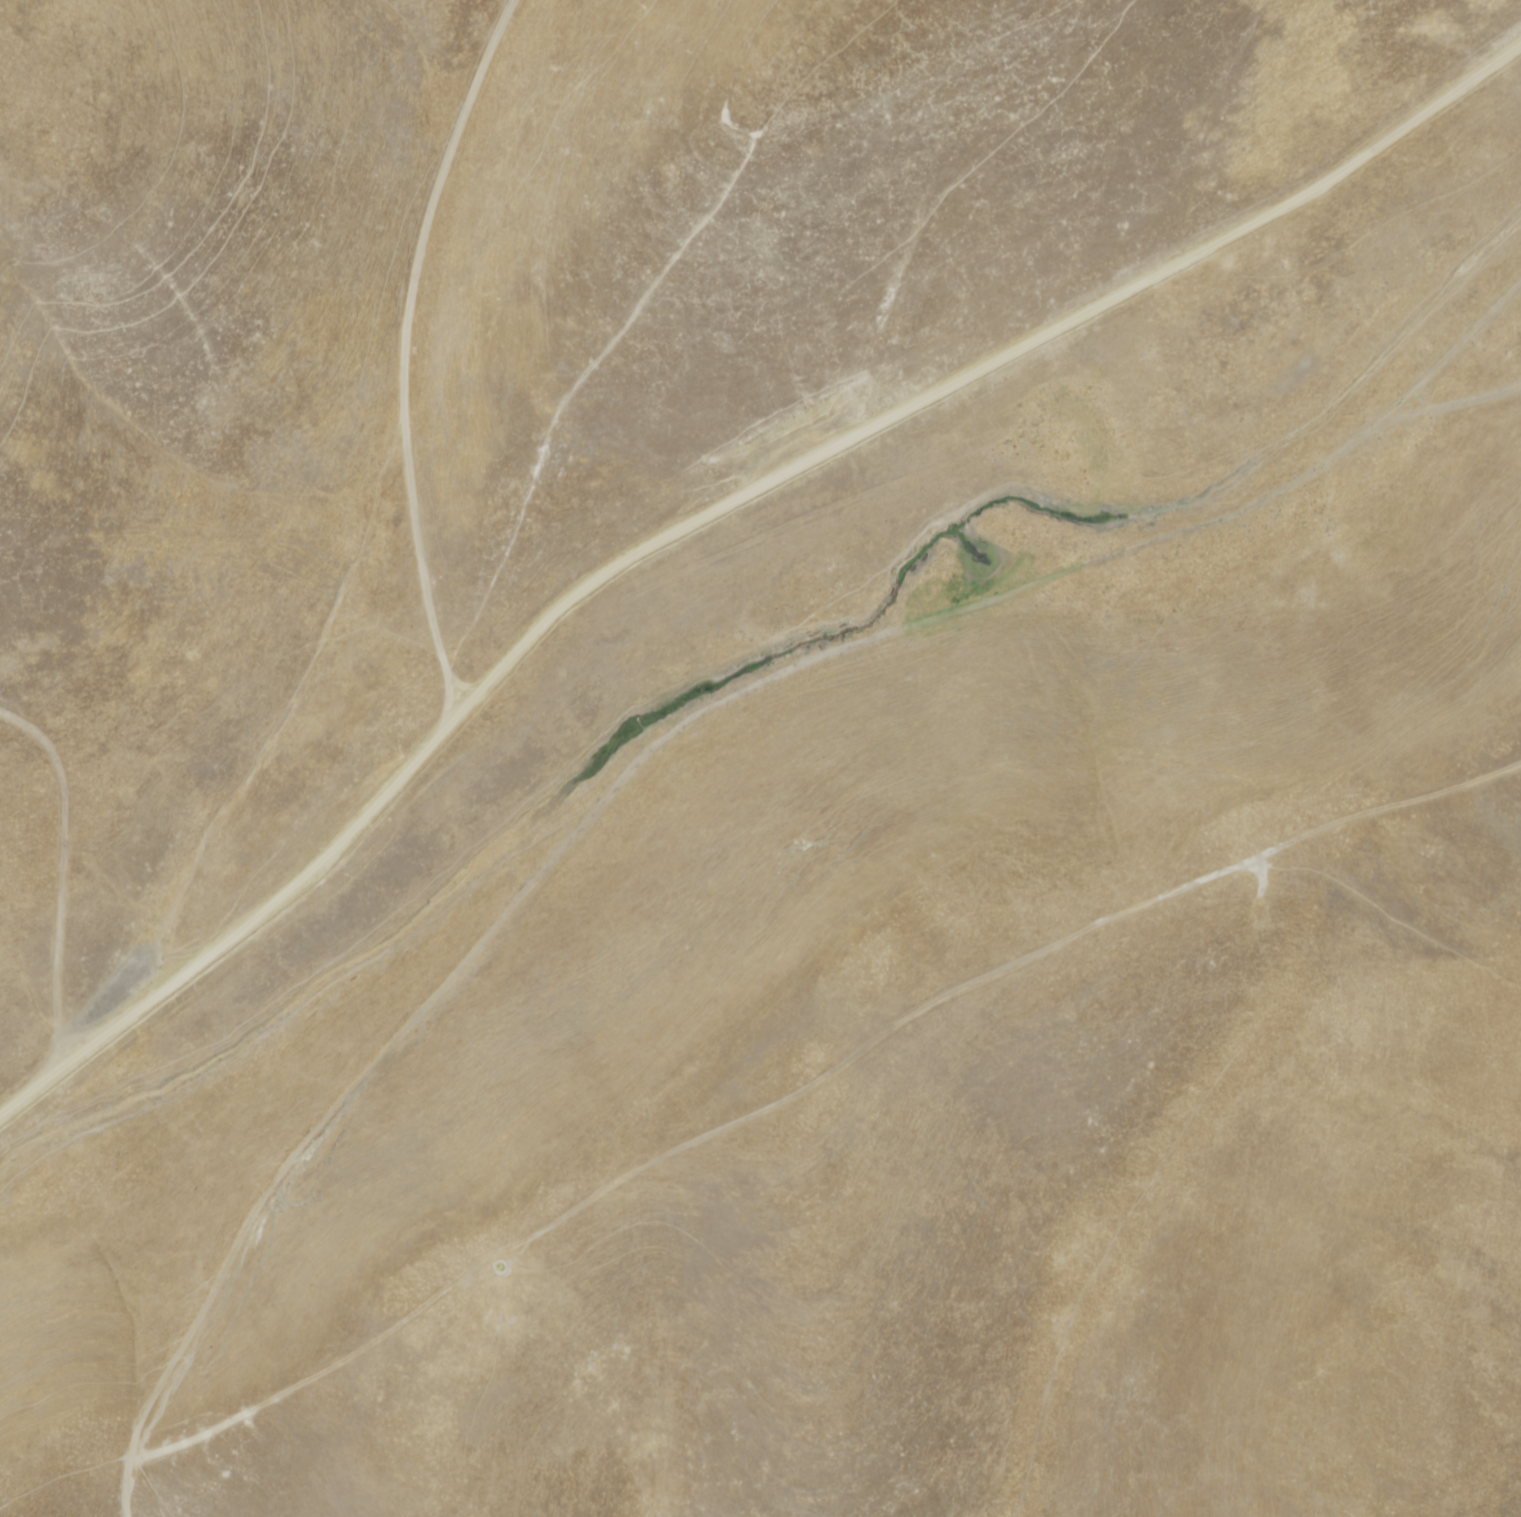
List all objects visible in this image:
road: (1353, 240)
road: (1454, 349)
road: (458, 354)
road: (973, 371)
road: (649, 747)
road: (235, 932)

